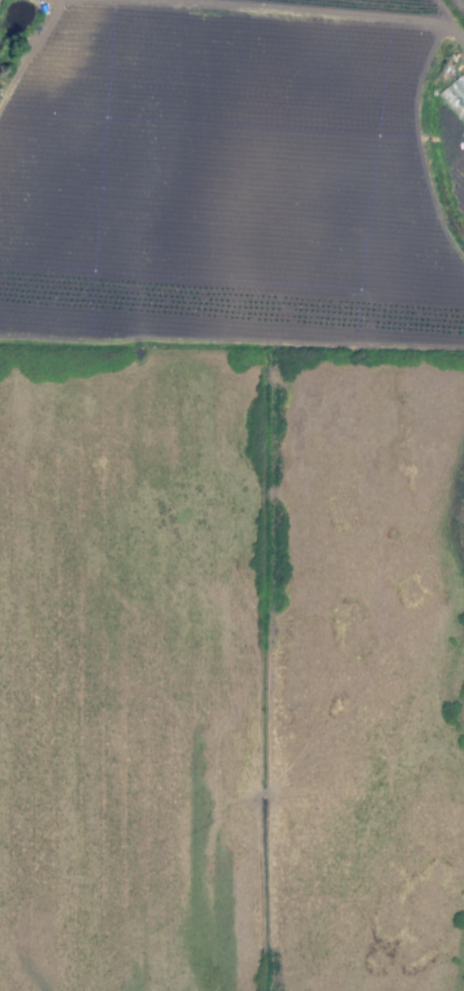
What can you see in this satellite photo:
railway: (463, 1)

